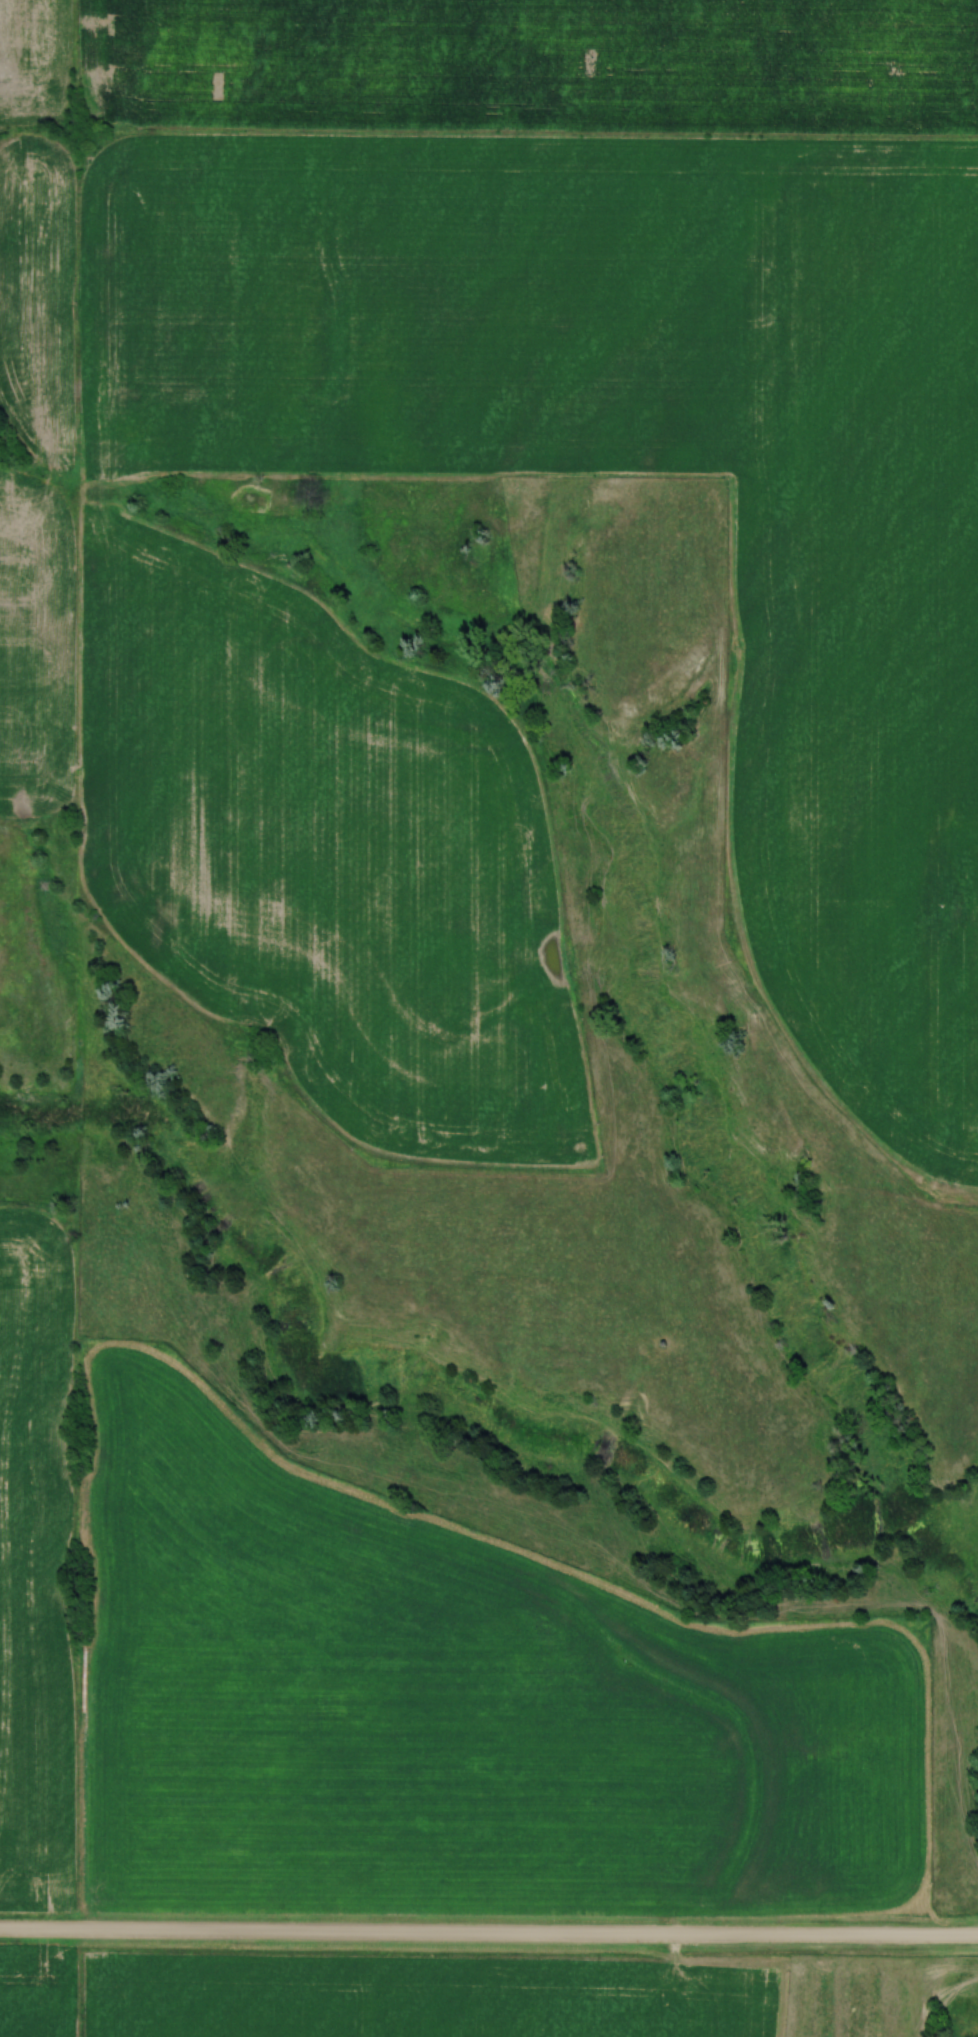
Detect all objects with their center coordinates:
road: (489, 1930)
crop: (34, 1990)

